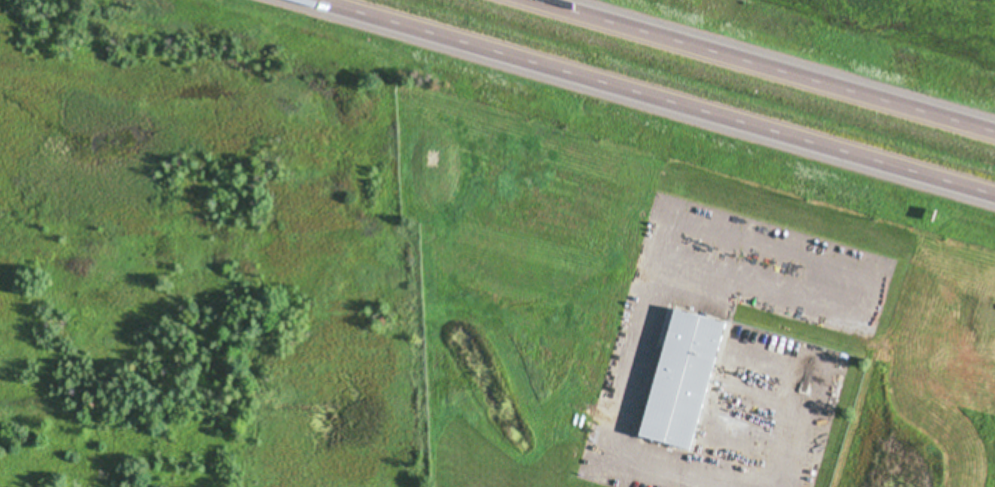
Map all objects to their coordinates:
crop: (911, 23)
road: (770, 64)
road: (647, 99)
building: (674, 376)

